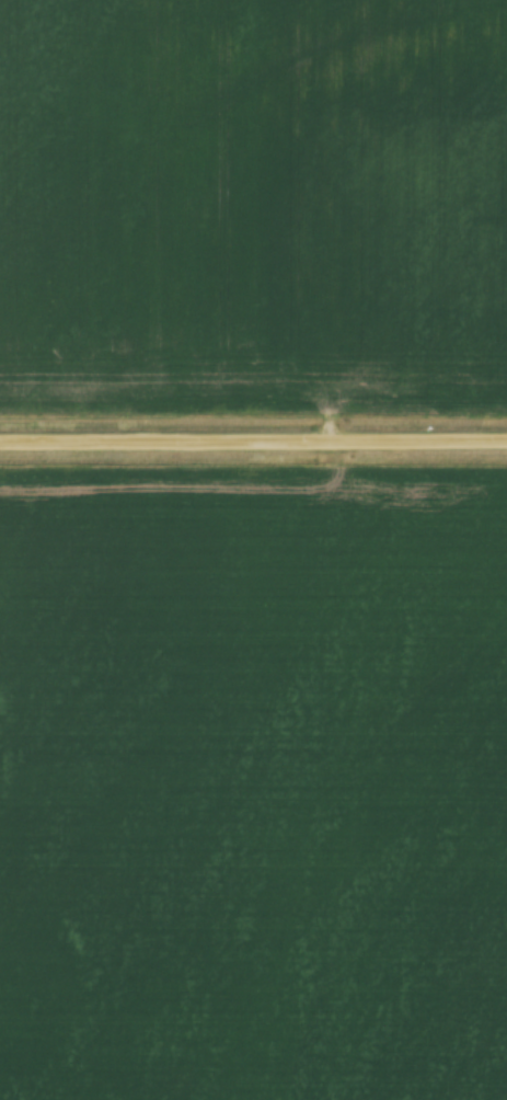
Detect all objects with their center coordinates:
road: (253, 438)

